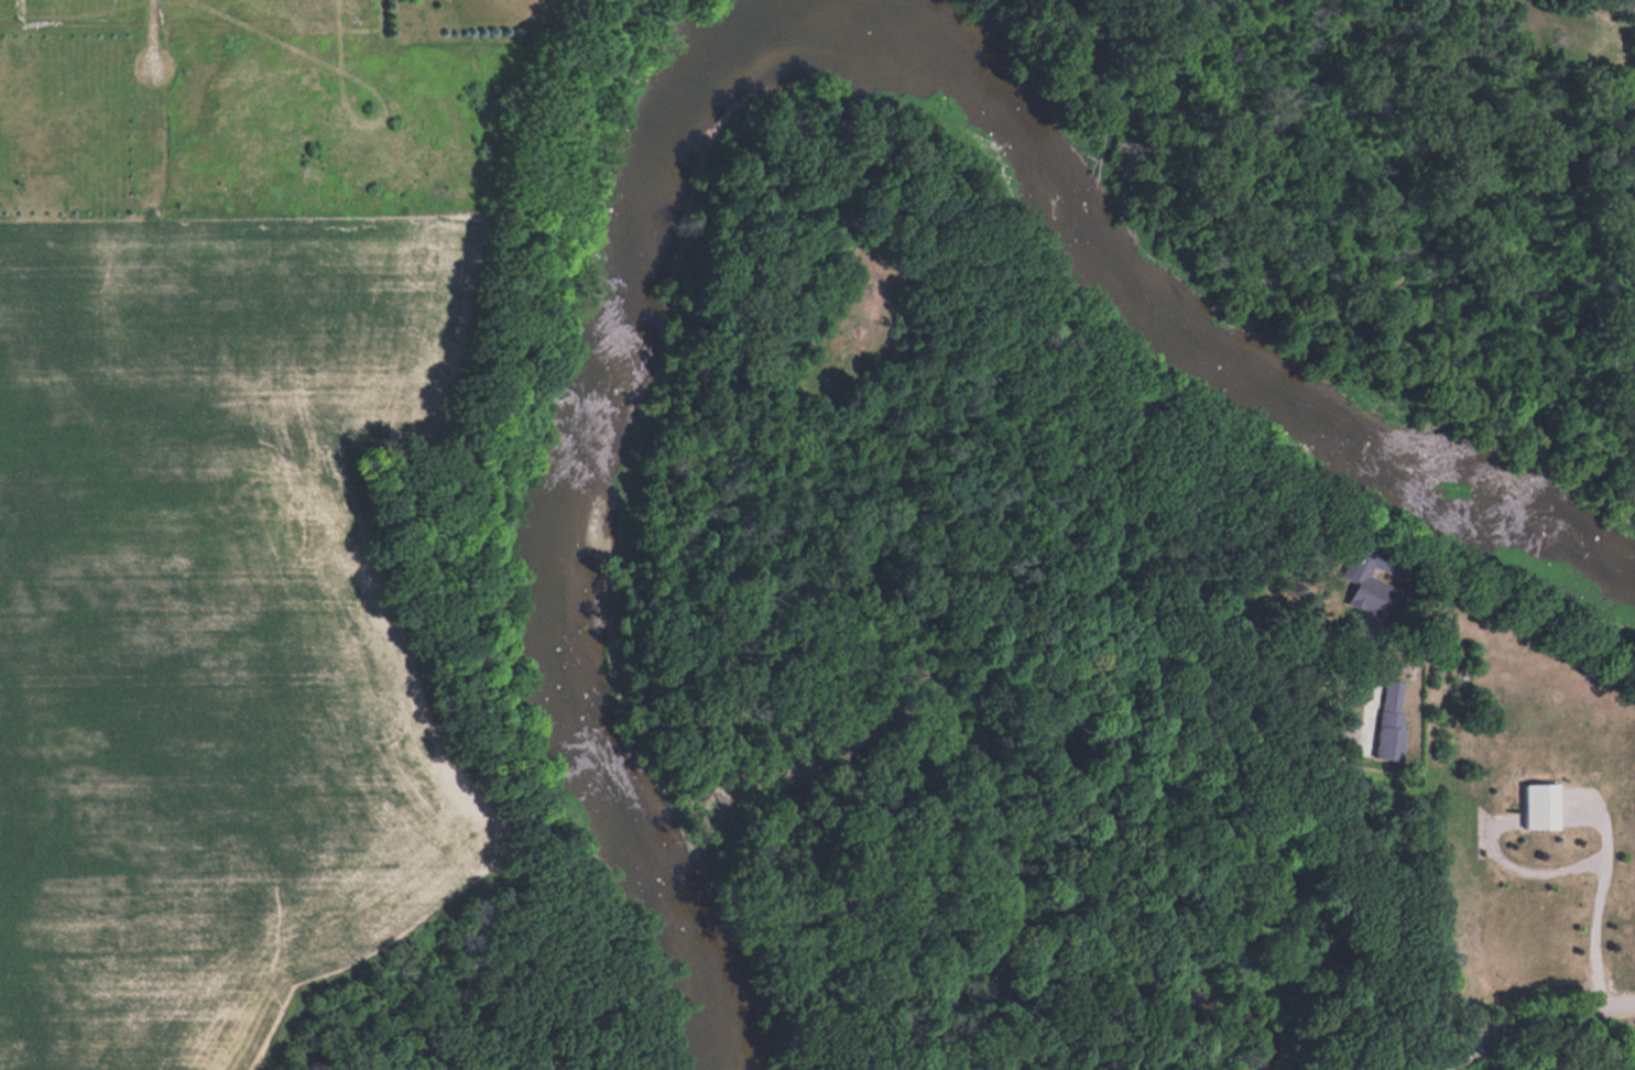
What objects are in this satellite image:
river: (733, 61)
building: (1392, 719)
building: (1544, 806)
road: (1540, 1019)

